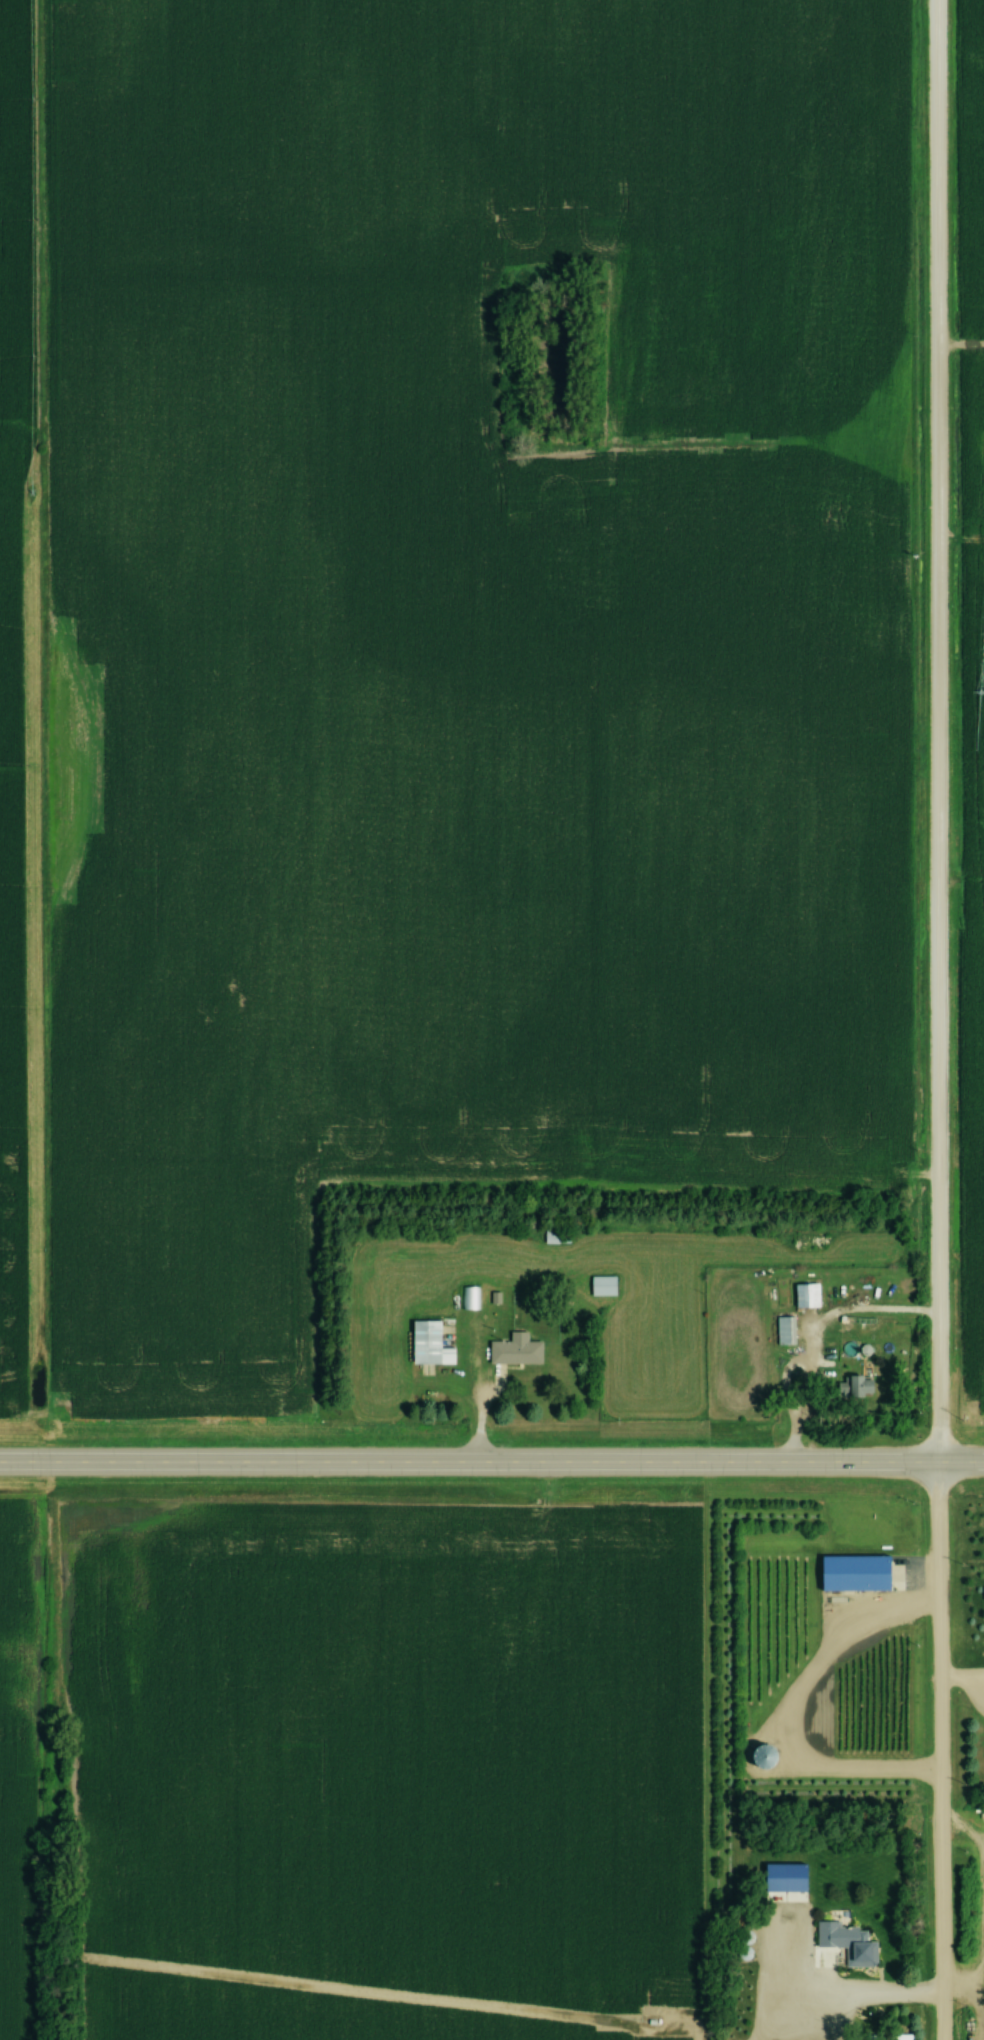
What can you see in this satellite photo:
road: (934, 1020)
building: (555, 1238)
building: (601, 1287)
building: (805, 1297)
building: (469, 1299)
building: (784, 1332)
building: (427, 1346)
building: (514, 1352)
building: (854, 1389)
road: (473, 1407)
road: (491, 1467)
building: (852, 1573)
road: (959, 1681)
building: (764, 1759)
building: (785, 1898)
building: (846, 1944)
road: (858, 1998)
building: (734, 2030)

